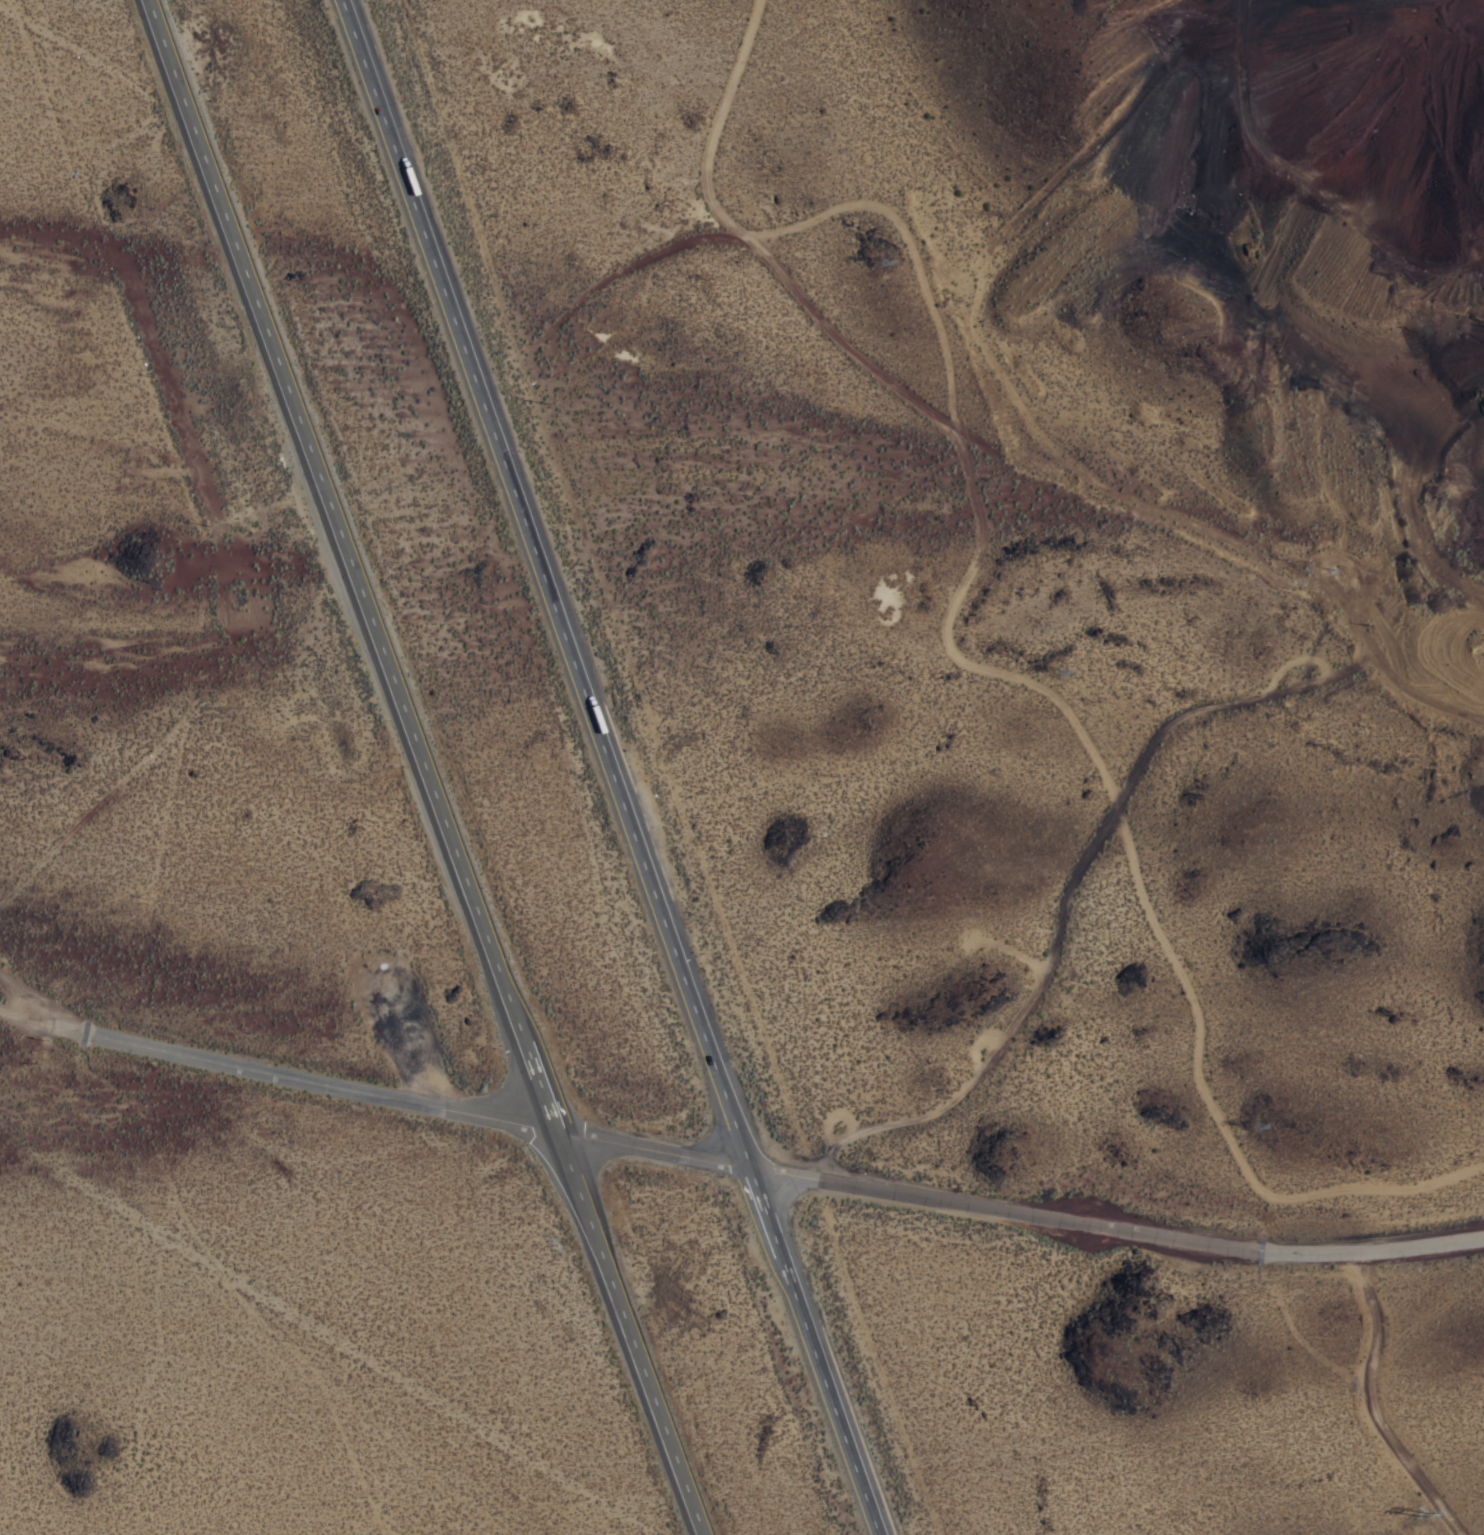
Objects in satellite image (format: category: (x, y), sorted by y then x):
road: (97, 66)
road: (715, 125)
road: (637, 262)
power tower: (879, 263)
road: (860, 360)
road: (966, 472)
road: (335, 520)
road: (547, 583)
road: (1293, 661)
power tower: (1053, 666)
road: (1067, 888)
road: (1013, 950)
road: (41, 1004)
road: (42, 1023)
road: (539, 1084)
road: (1213, 1110)
road: (851, 1124)
power tower: (1257, 1129)
road: (781, 1172)
road: (767, 1211)
road: (628, 1332)
road: (831, 1395)
power tower: (1420, 1518)

